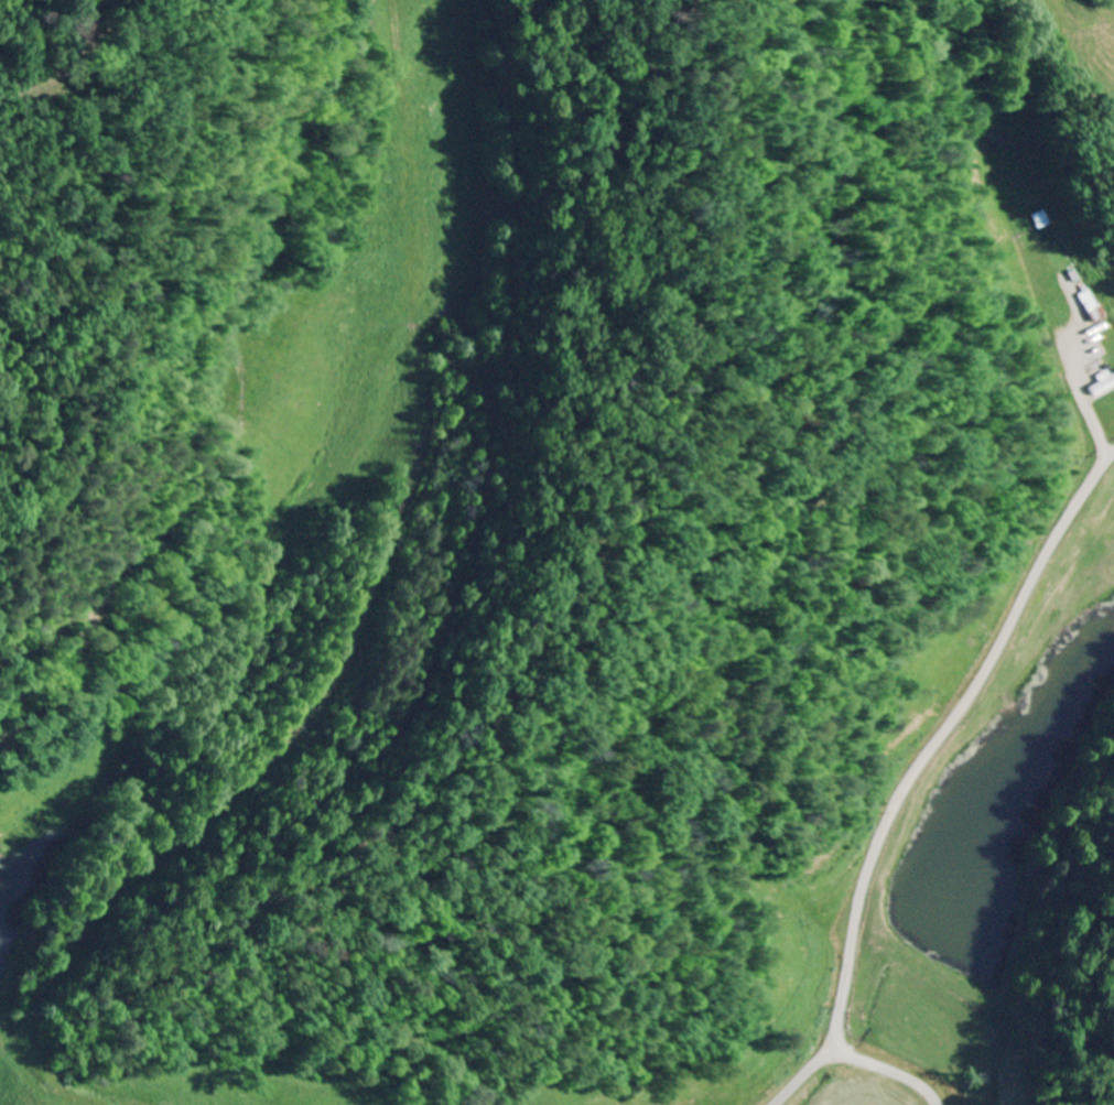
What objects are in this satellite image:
building: (1082, 300)
building: (1103, 386)
road: (840, 1038)
road: (855, 1055)

